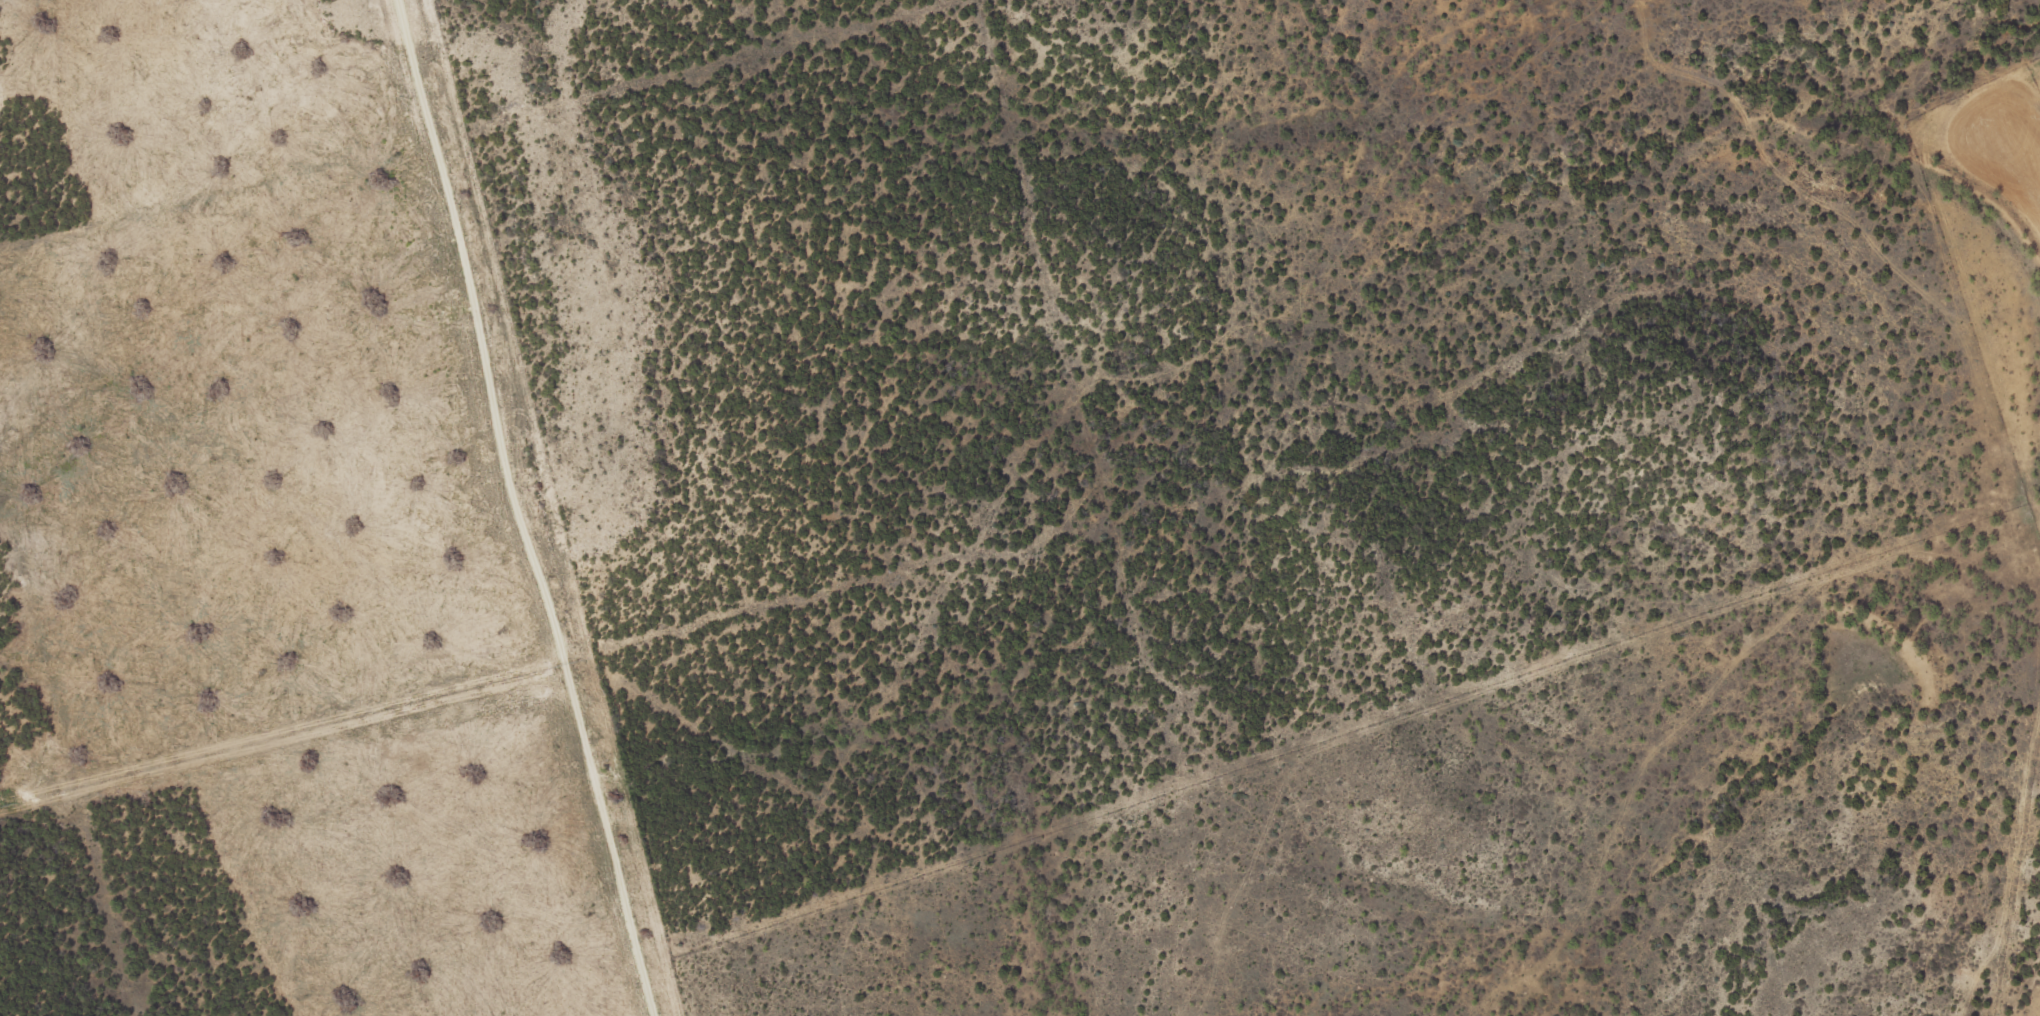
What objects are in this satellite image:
road: (1594, 869)

